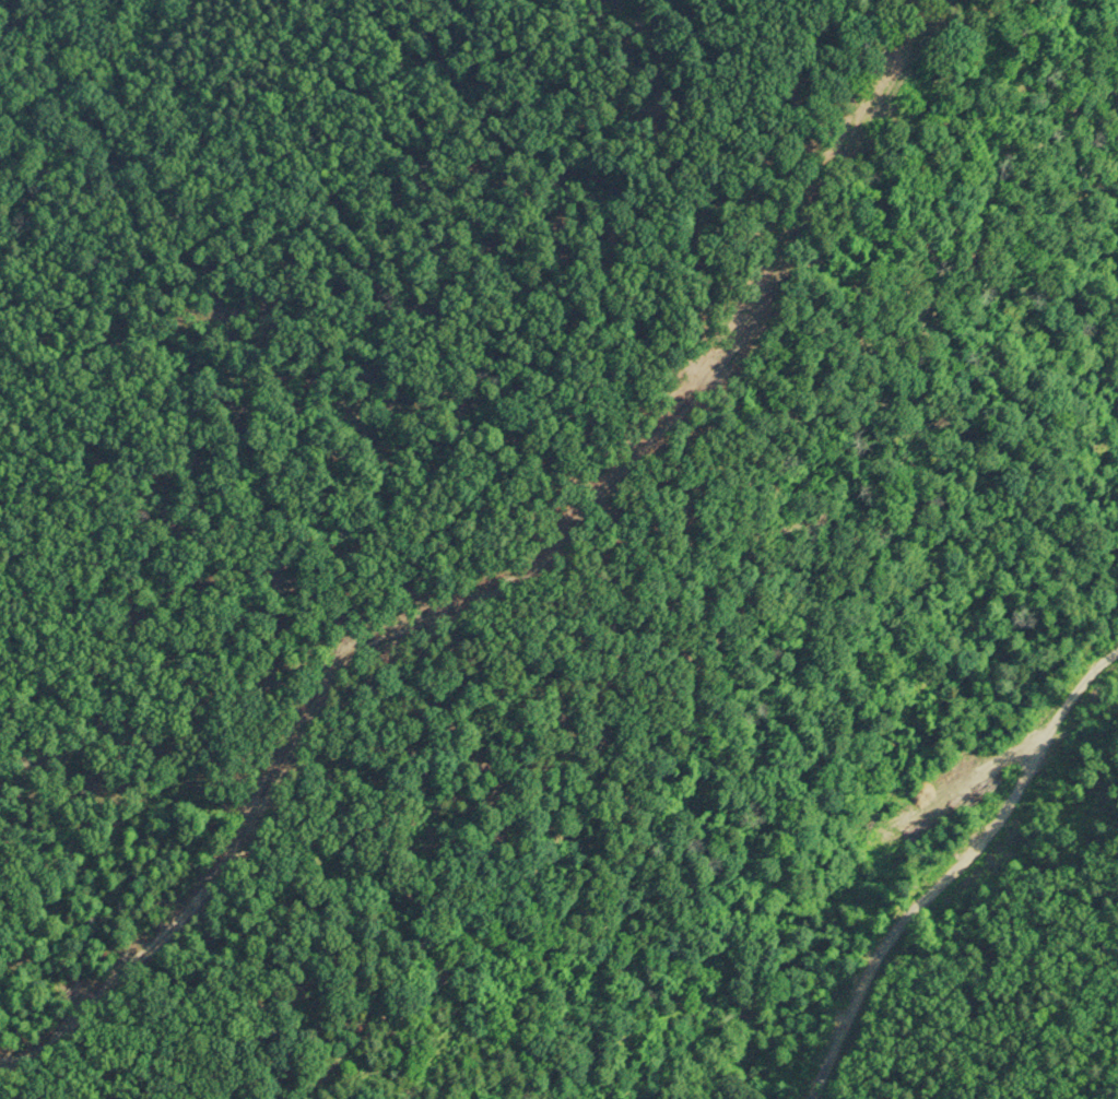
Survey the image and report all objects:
road: (972, 887)

